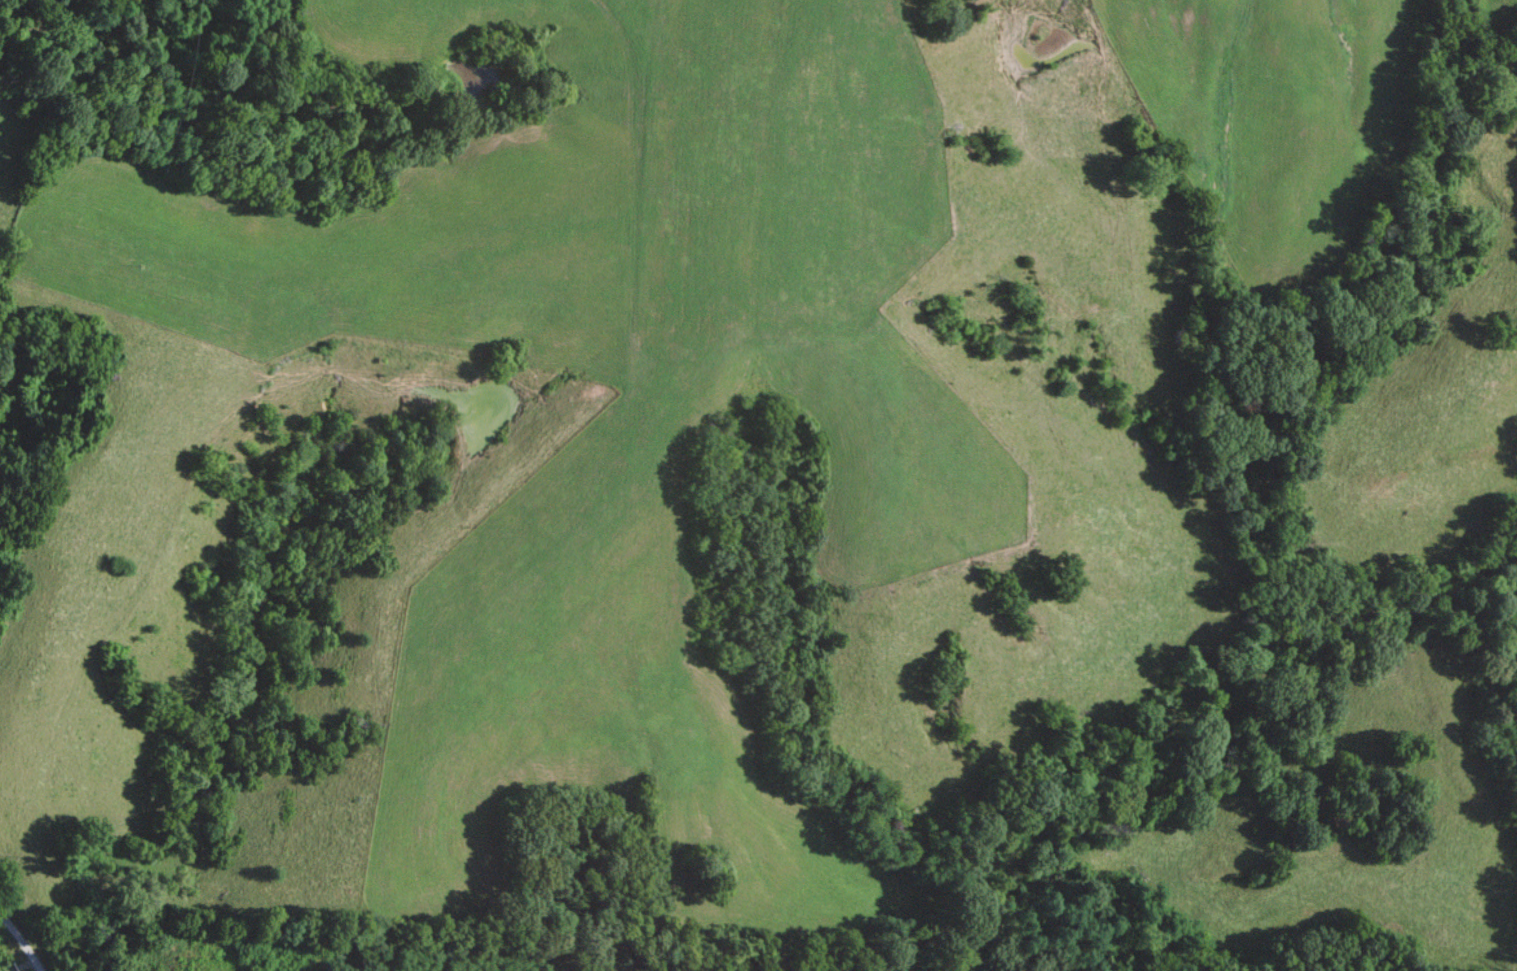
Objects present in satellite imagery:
road: (16, 943)
road: (16, 963)

